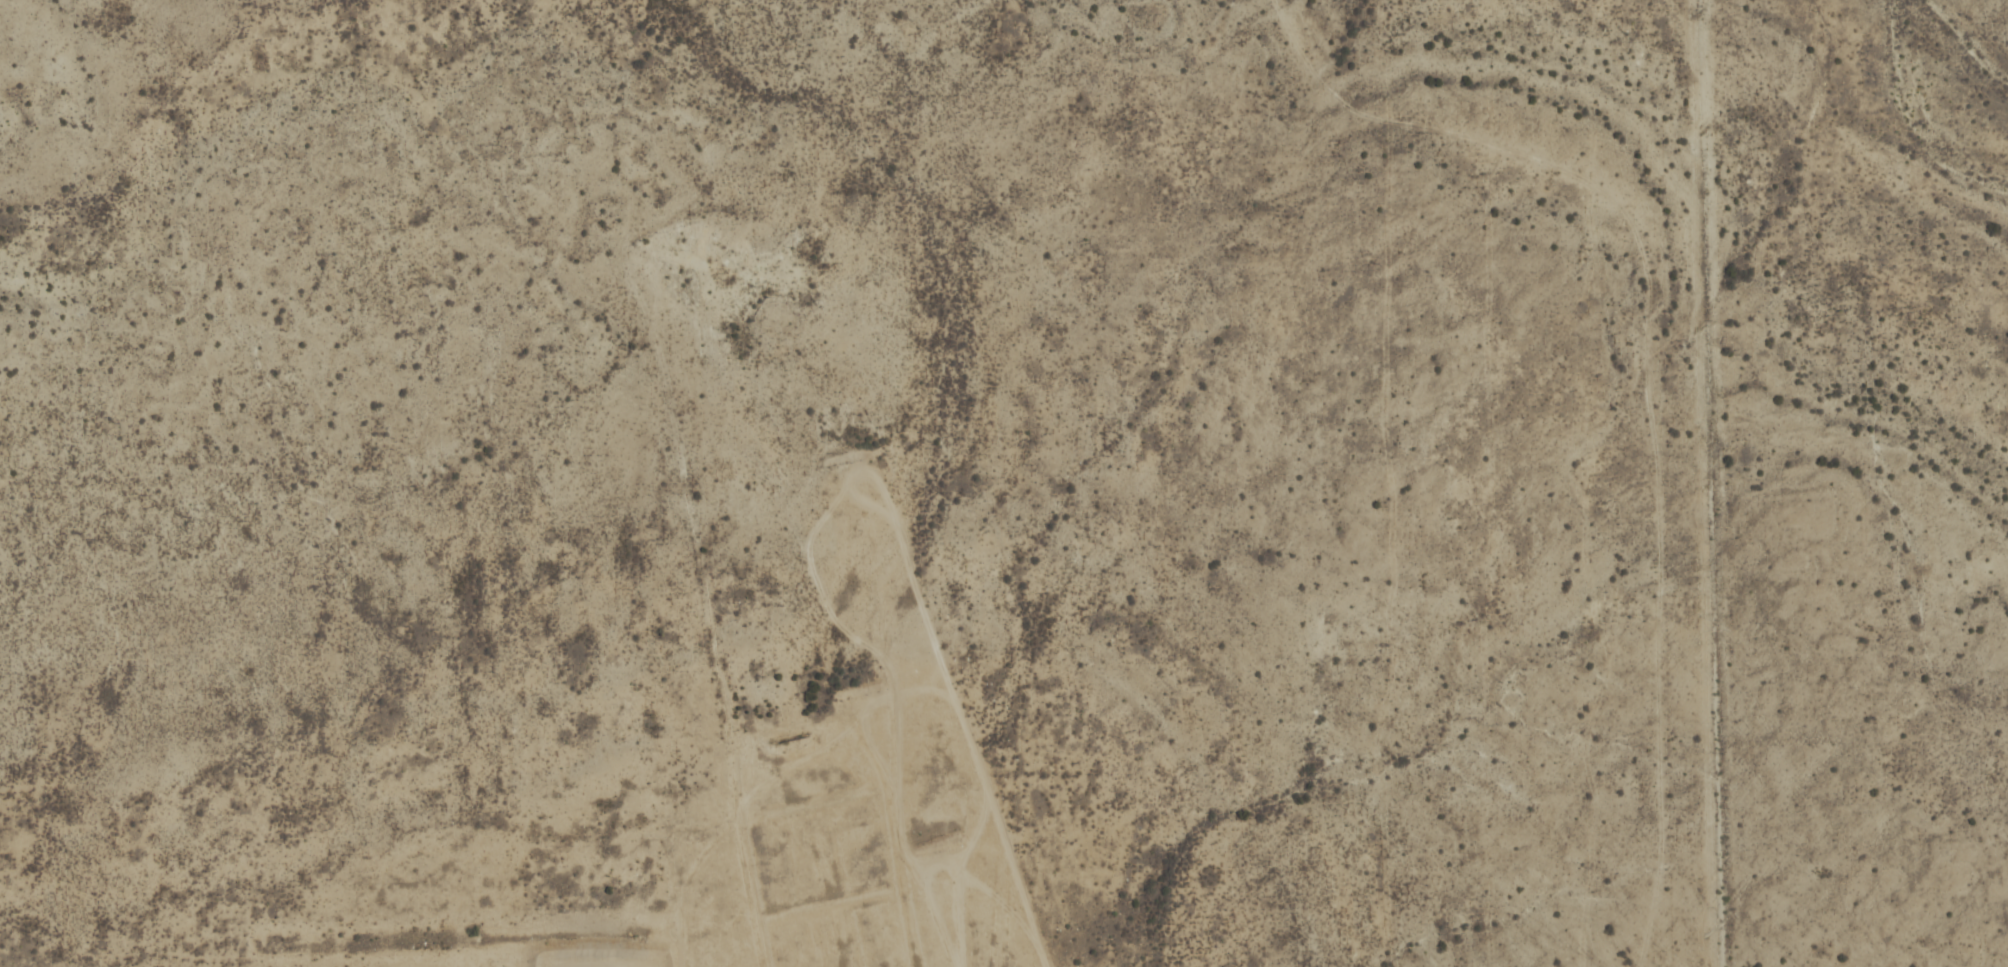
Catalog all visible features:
park: (1851, 477)

